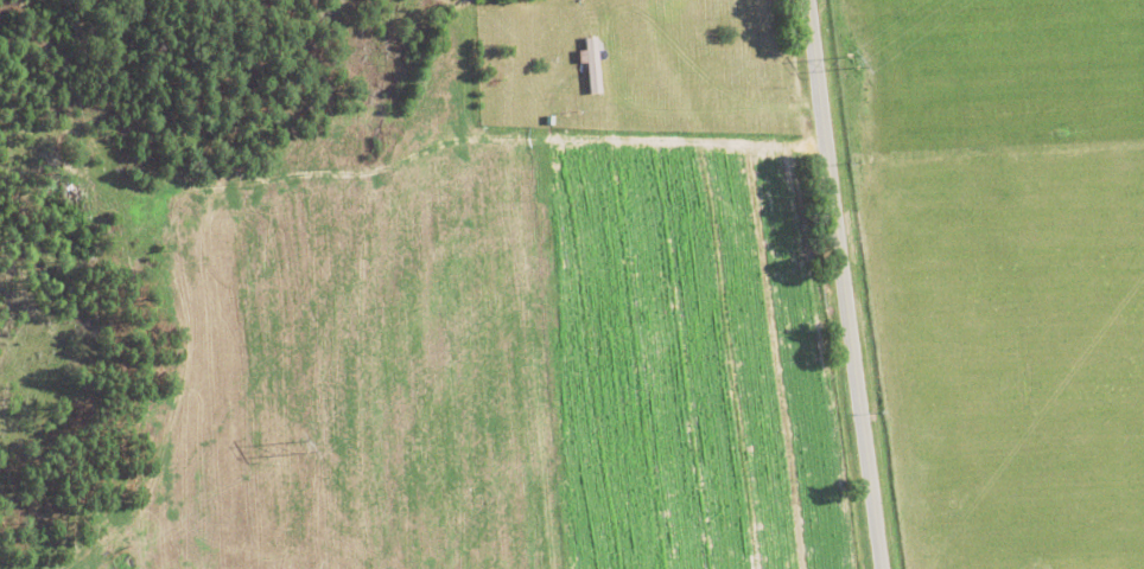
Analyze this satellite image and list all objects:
power tower: (852, 62)
building: (590, 64)
road: (609, 75)
road: (839, 283)
power tower: (303, 445)

